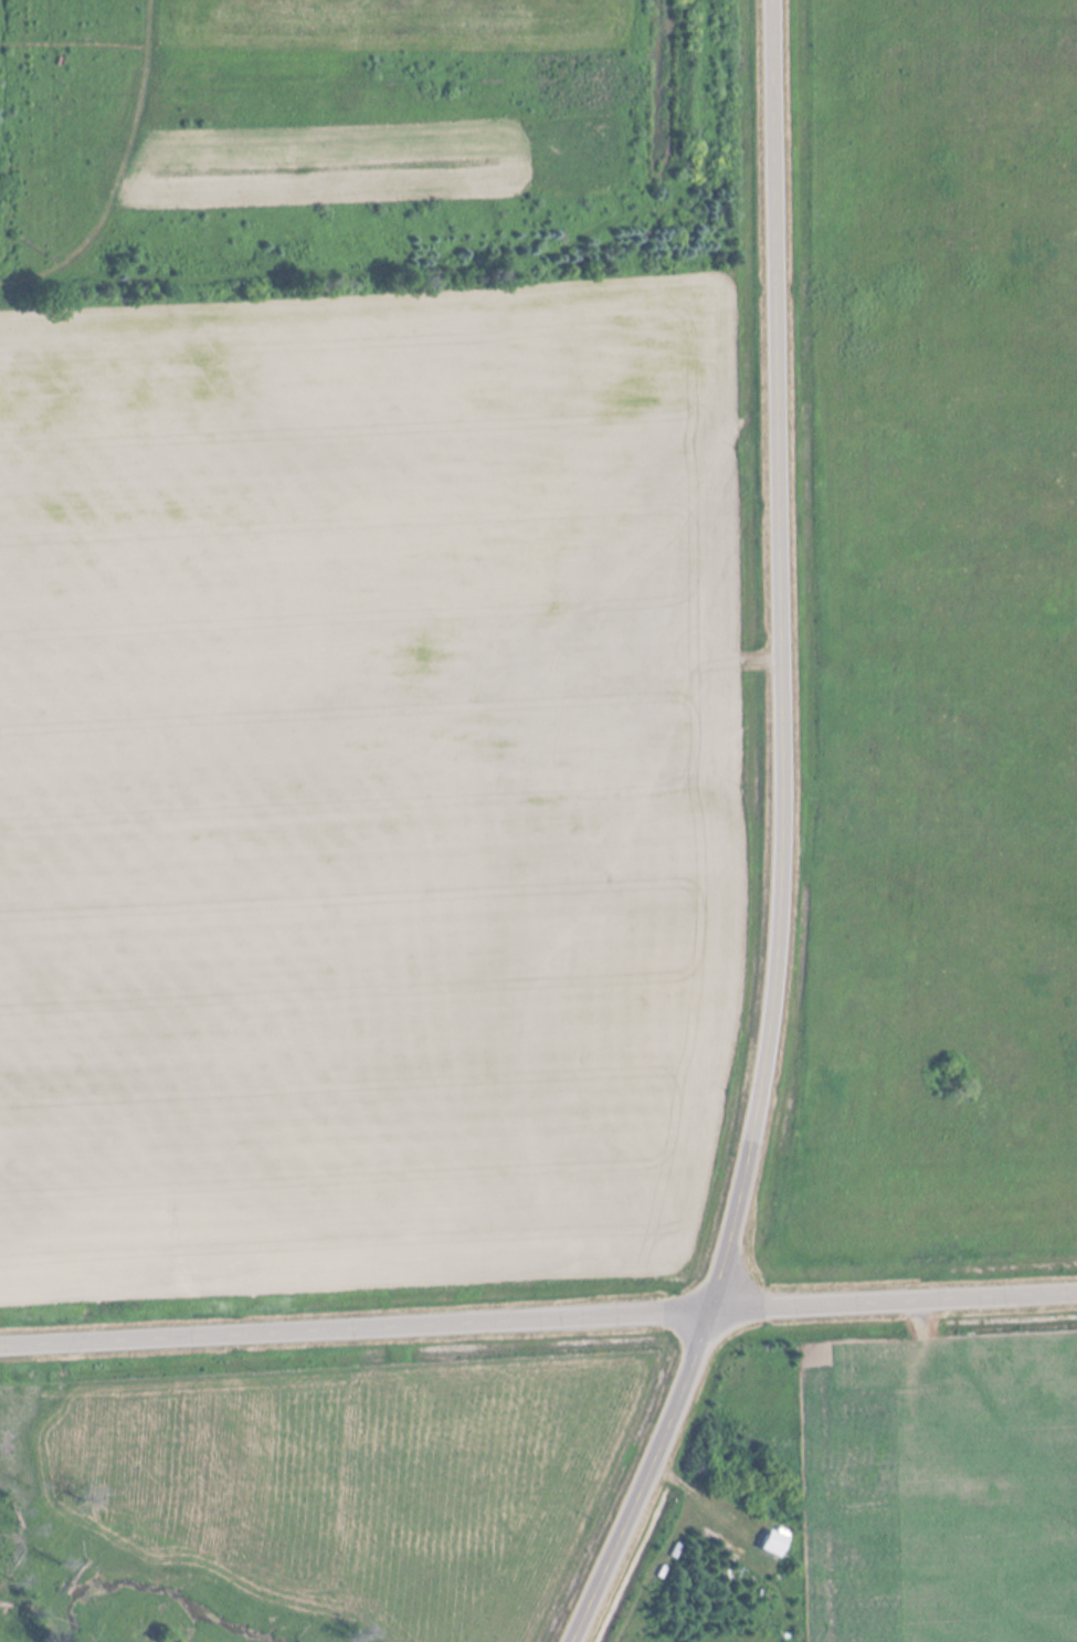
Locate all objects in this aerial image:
road: (783, 840)
road: (538, 1313)
building: (866, 1475)
building: (981, 1495)

